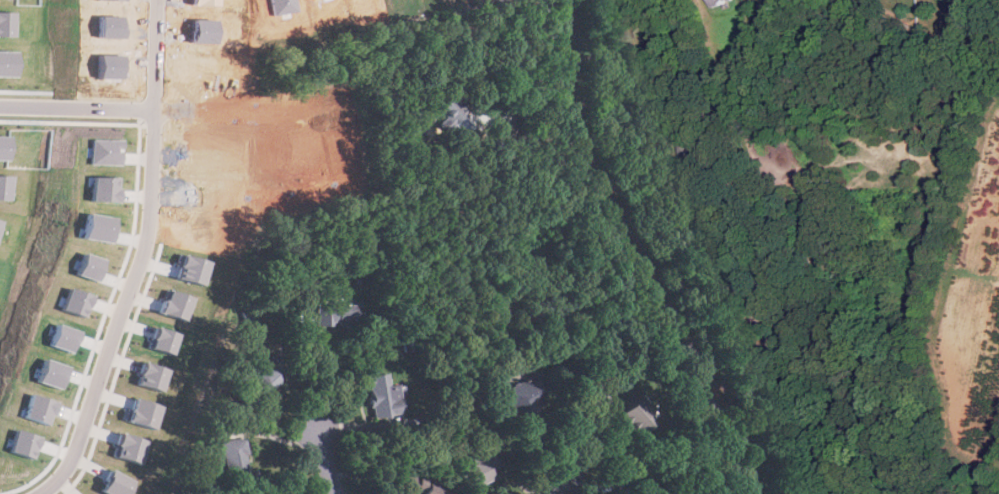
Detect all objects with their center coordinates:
building: (717, 2)
road: (560, 42)
road: (163, 51)
road: (524, 106)
road: (77, 110)
road: (246, 114)
building: (455, 115)
building: (91, 266)
road: (644, 294)
building: (79, 302)
building: (178, 304)
road: (127, 308)
building: (337, 315)
road: (719, 325)
building: (67, 337)
building: (165, 339)
building: (56, 373)
building: (154, 375)
building: (259, 385)
building: (528, 394)
building: (384, 395)
building: (43, 409)
building: (146, 413)
building: (636, 415)
road: (803, 420)
building: (27, 443)
building: (131, 447)
road: (326, 461)
building: (238, 465)
building: (477, 467)
building: (117, 483)
building: (421, 486)
road: (561, 486)
building: (632, 491)

